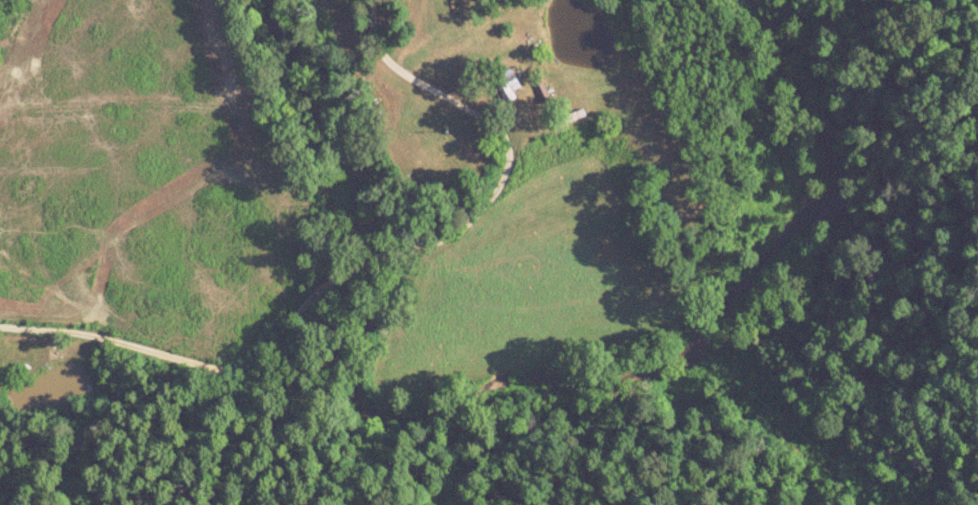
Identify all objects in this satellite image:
building: (510, 89)
river: (801, 174)
road: (368, 280)

